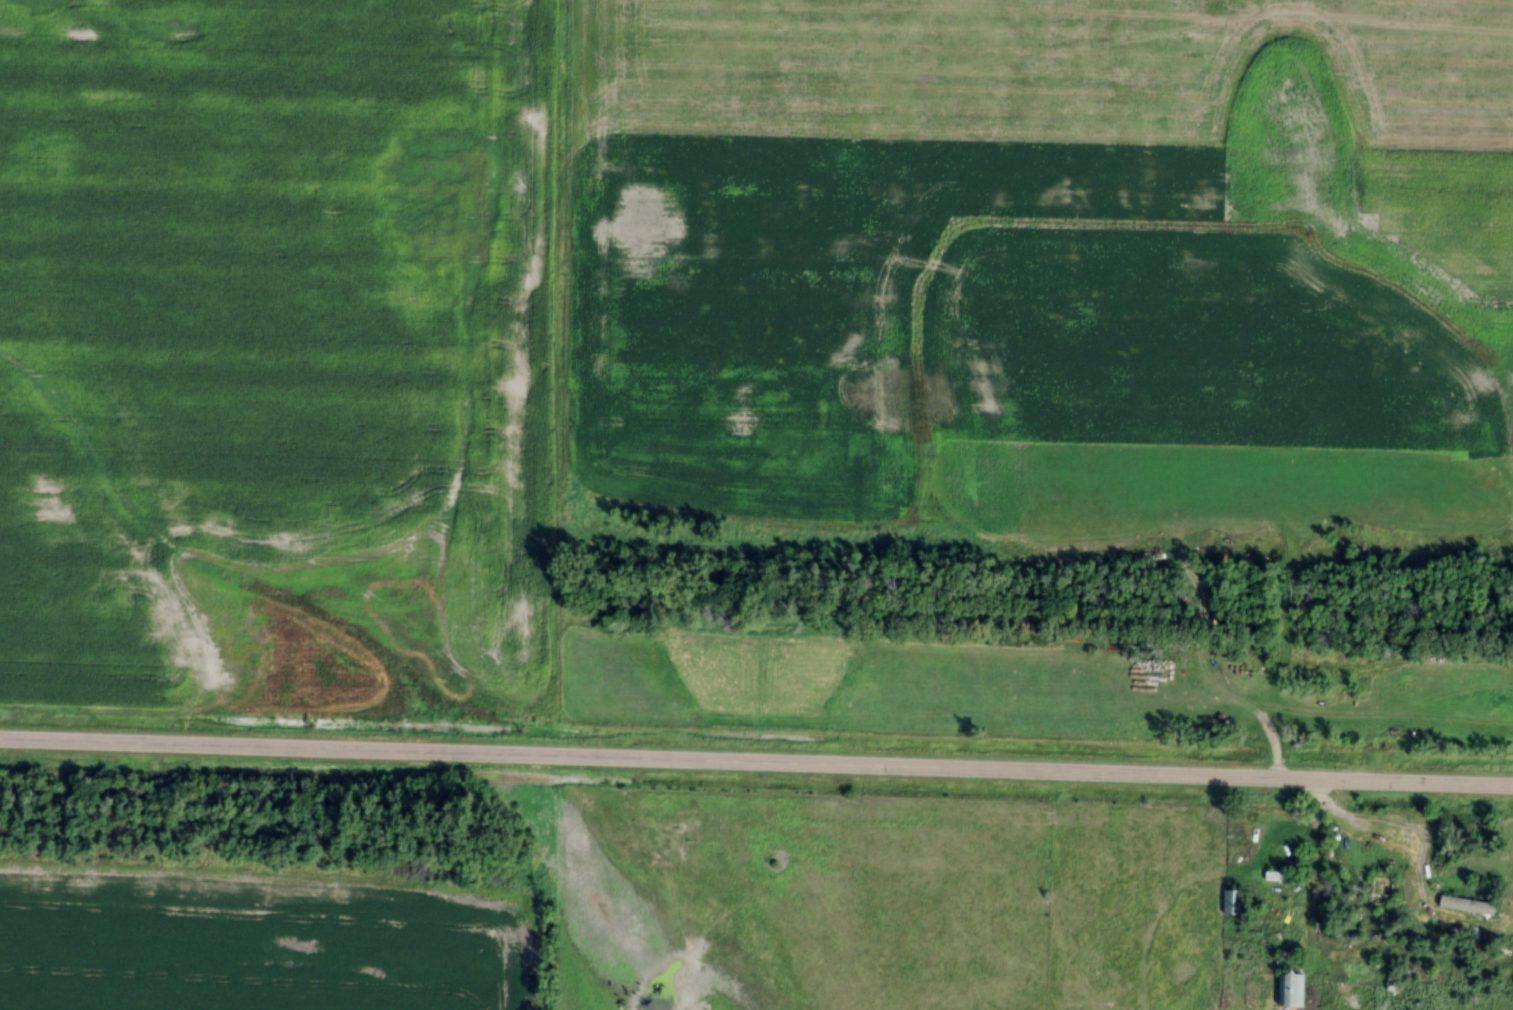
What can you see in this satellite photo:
road: (756, 762)
road: (1308, 870)
building: (1284, 878)
building: (1390, 890)
building: (1234, 903)
building: (1294, 990)

